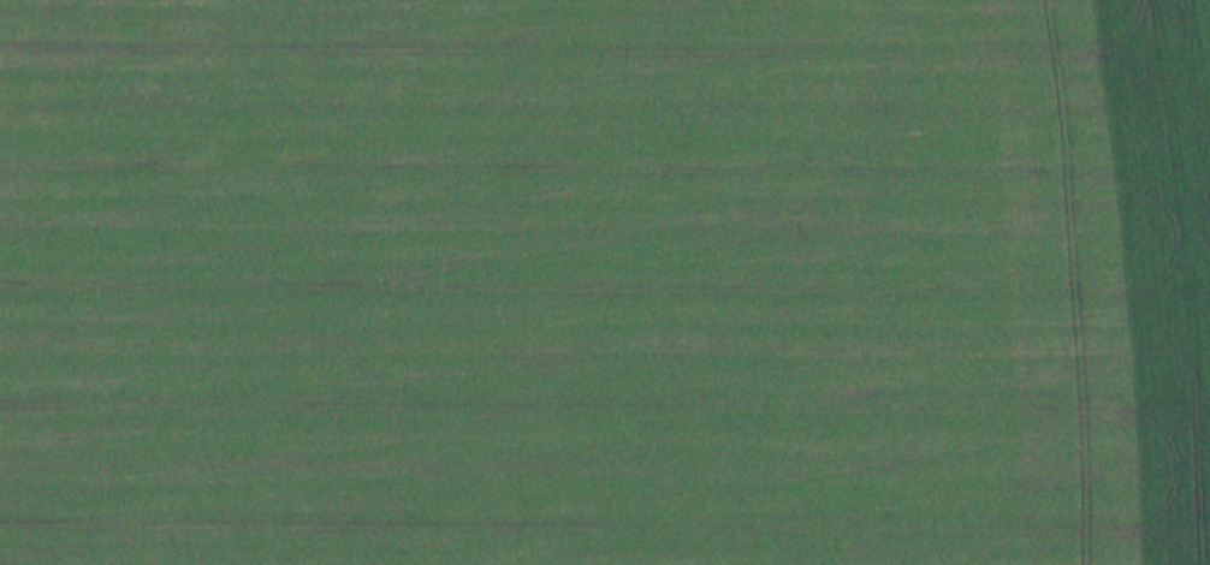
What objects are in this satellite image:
crop: (605, 282)

